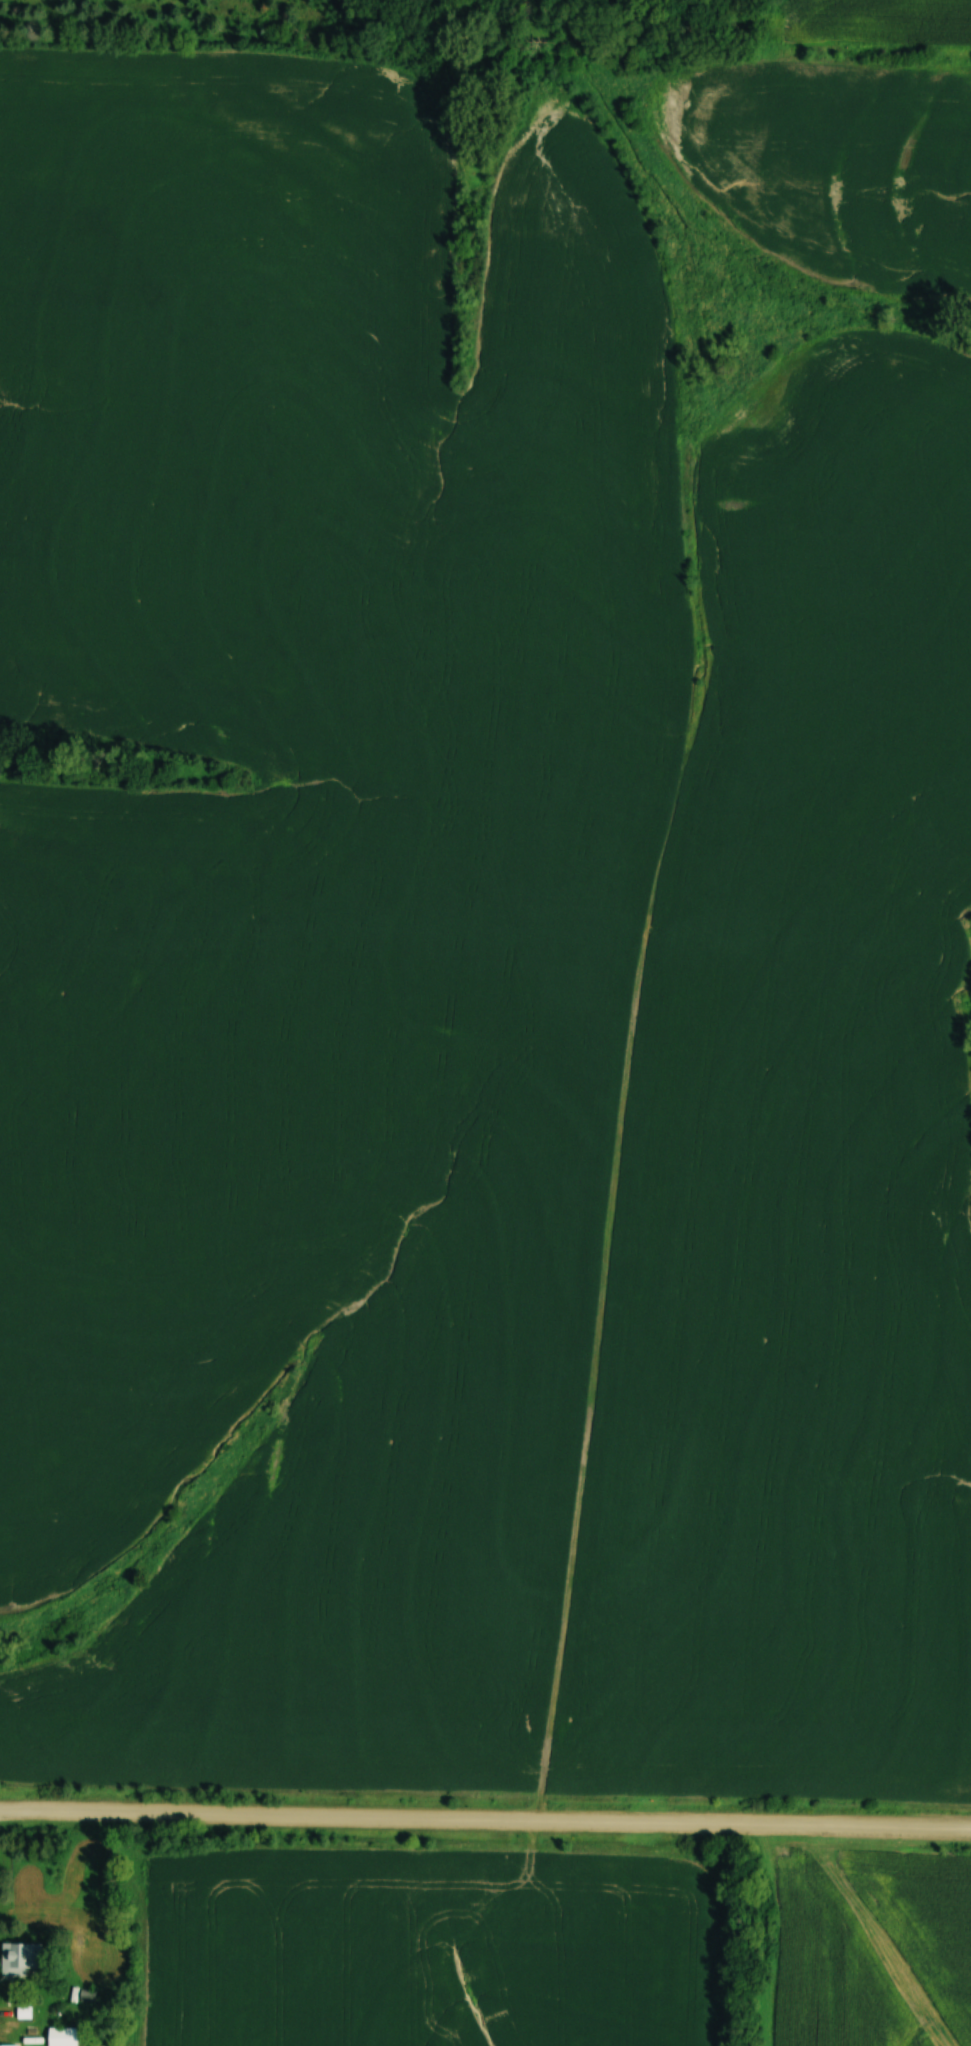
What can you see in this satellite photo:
road: (485, 1819)
building: (20, 1956)
building: (86, 1994)
building: (61, 2035)
building: (7, 2044)

